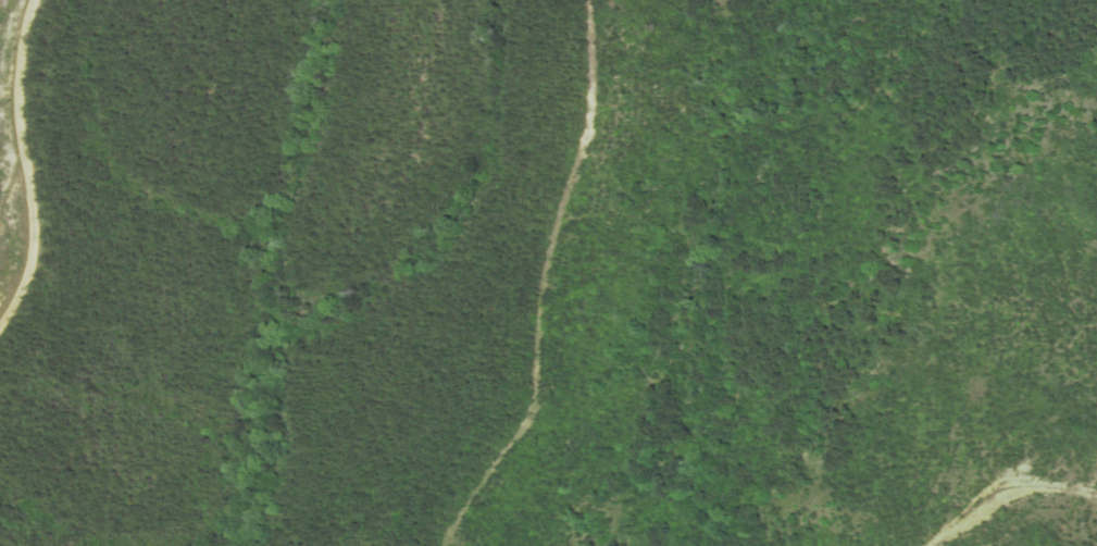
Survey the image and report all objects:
road: (28, 169)

